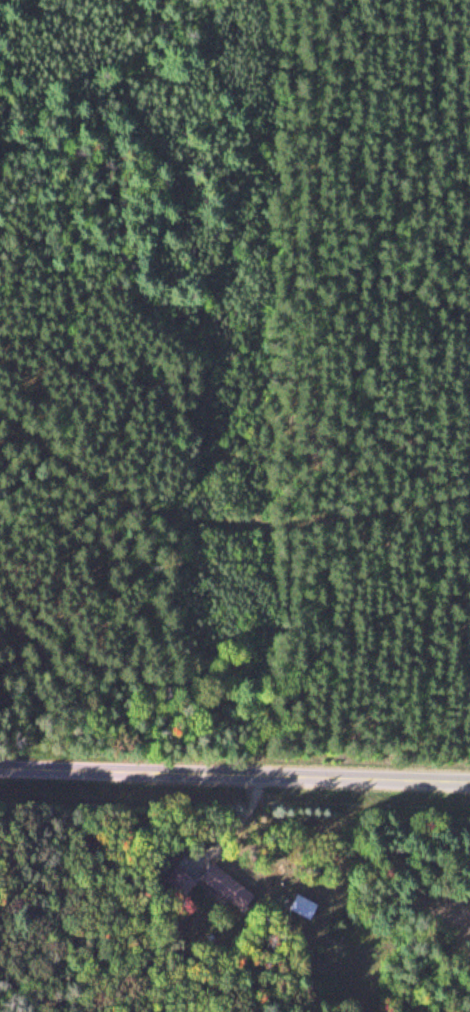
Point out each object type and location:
road: (235, 777)
building: (178, 882)
building: (224, 886)
building: (302, 907)

